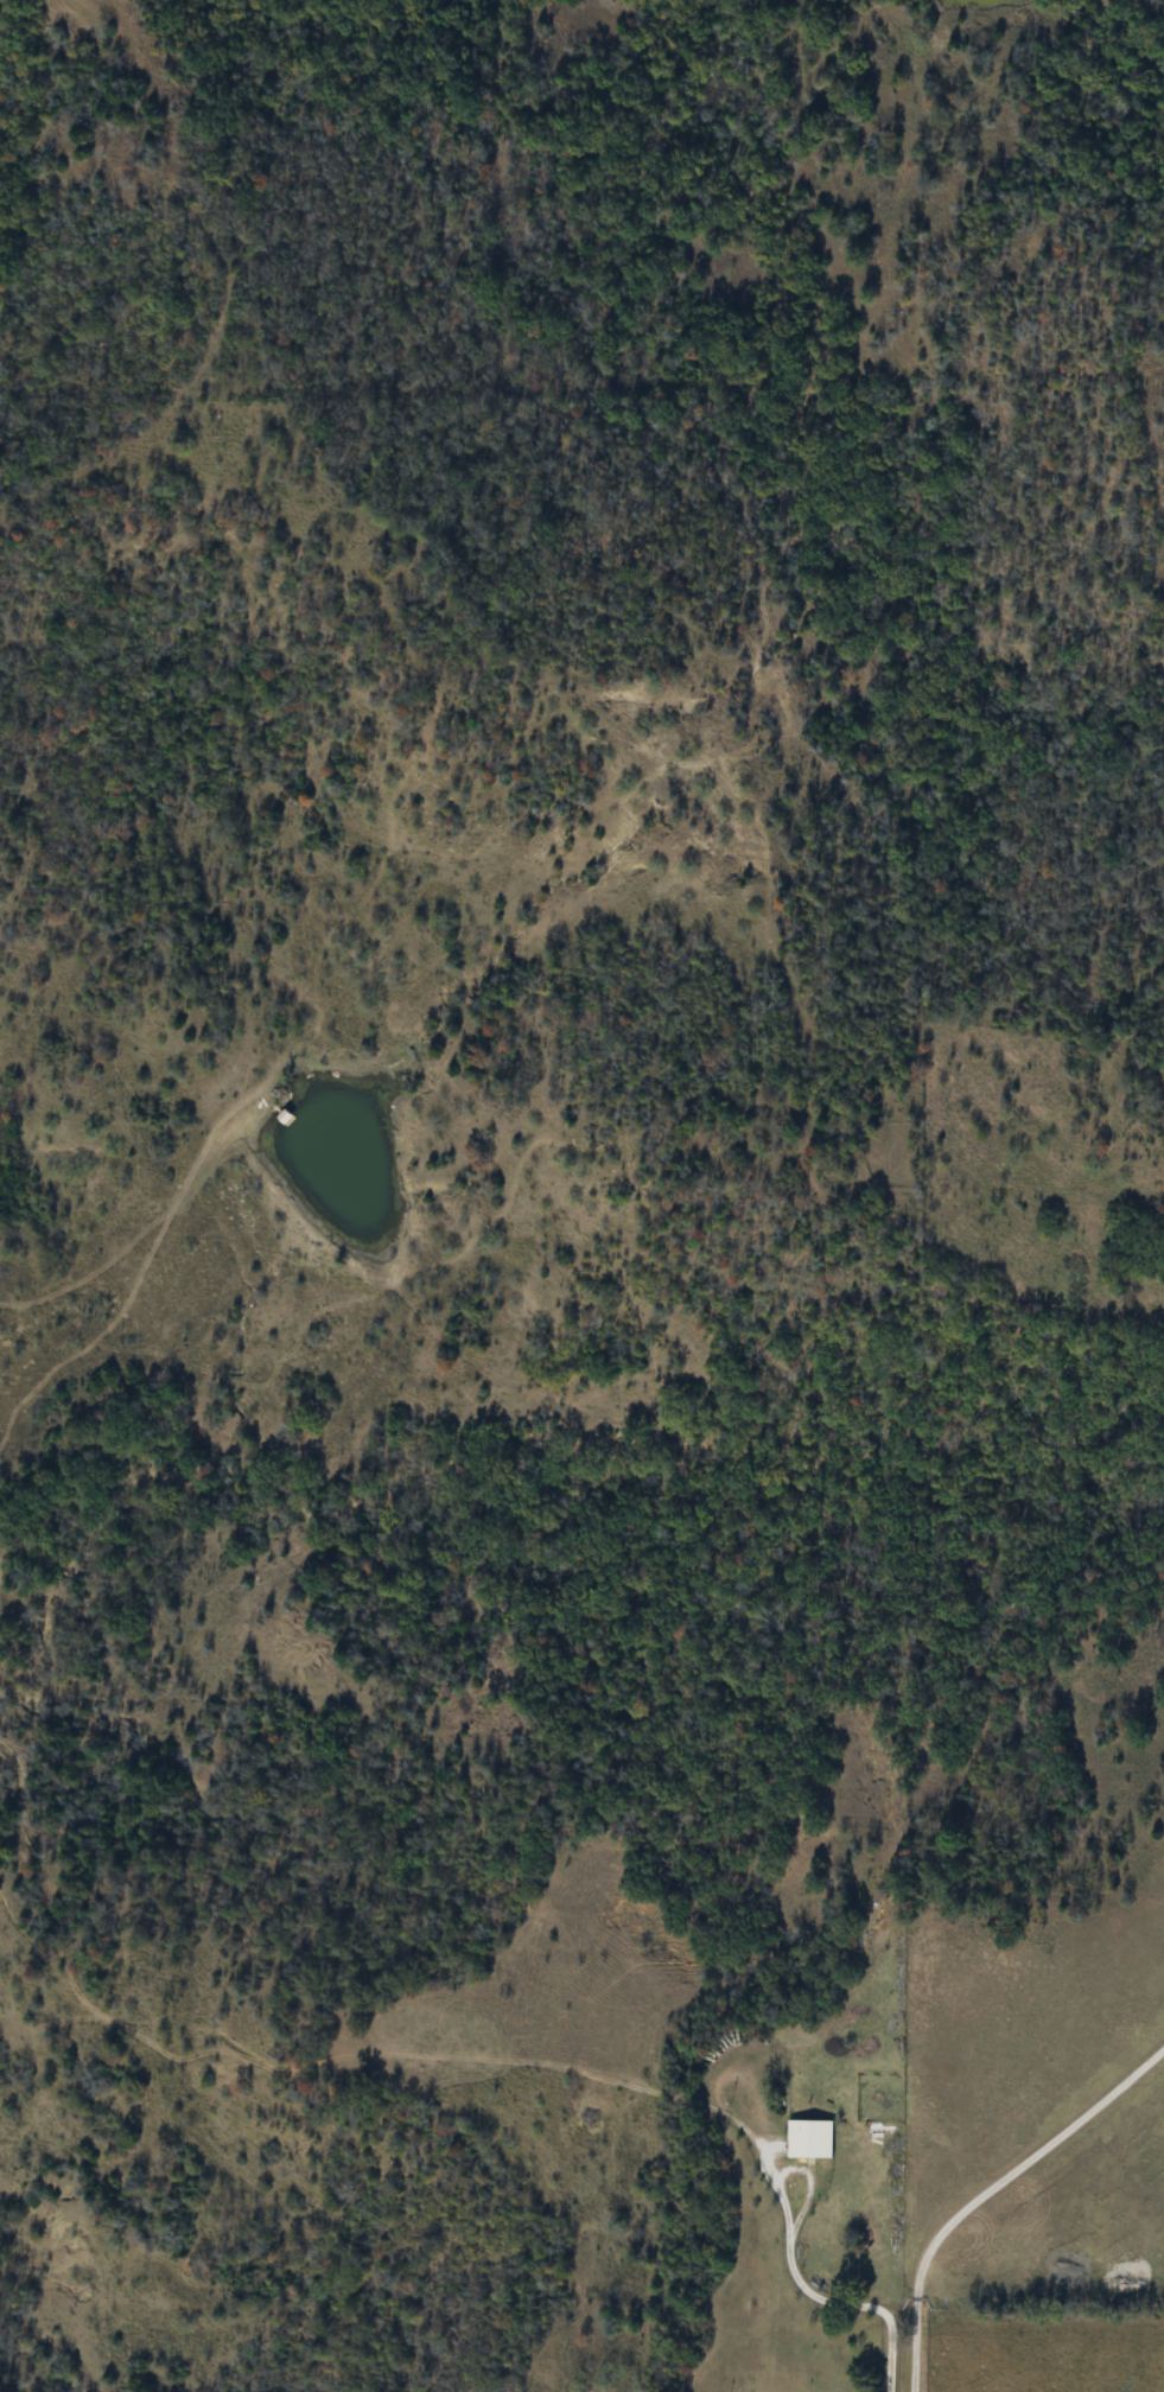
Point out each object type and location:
building: (813, 2139)
road: (987, 2194)
road: (1119, 2257)
road: (826, 2302)

